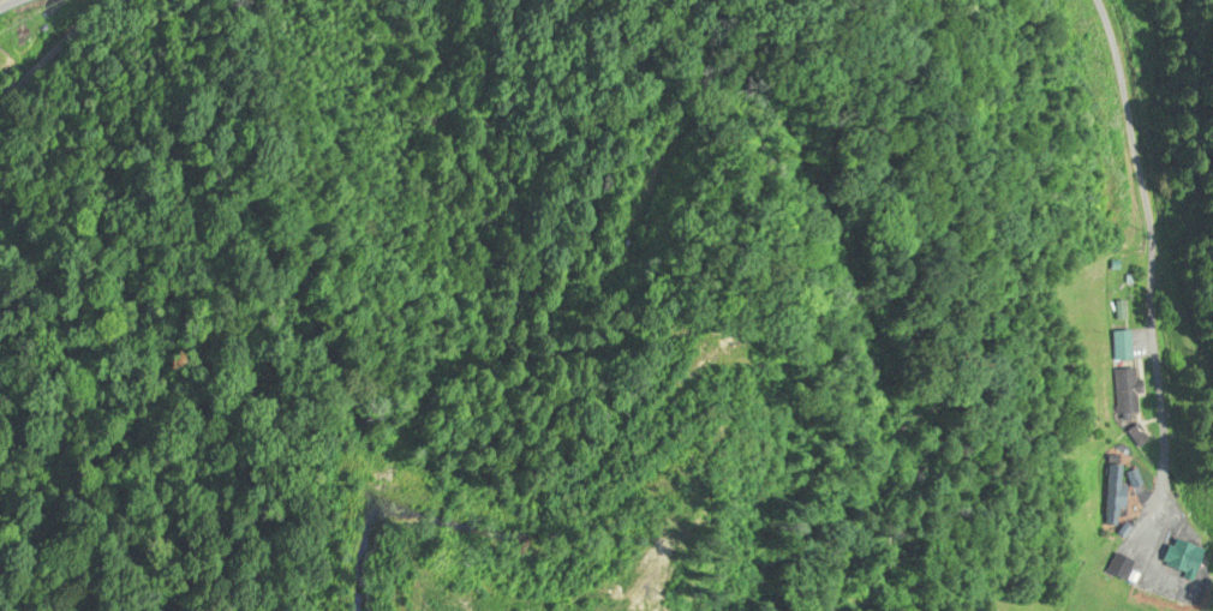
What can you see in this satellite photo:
road: (2, 1)
road: (82, 178)
building: (1181, 561)

